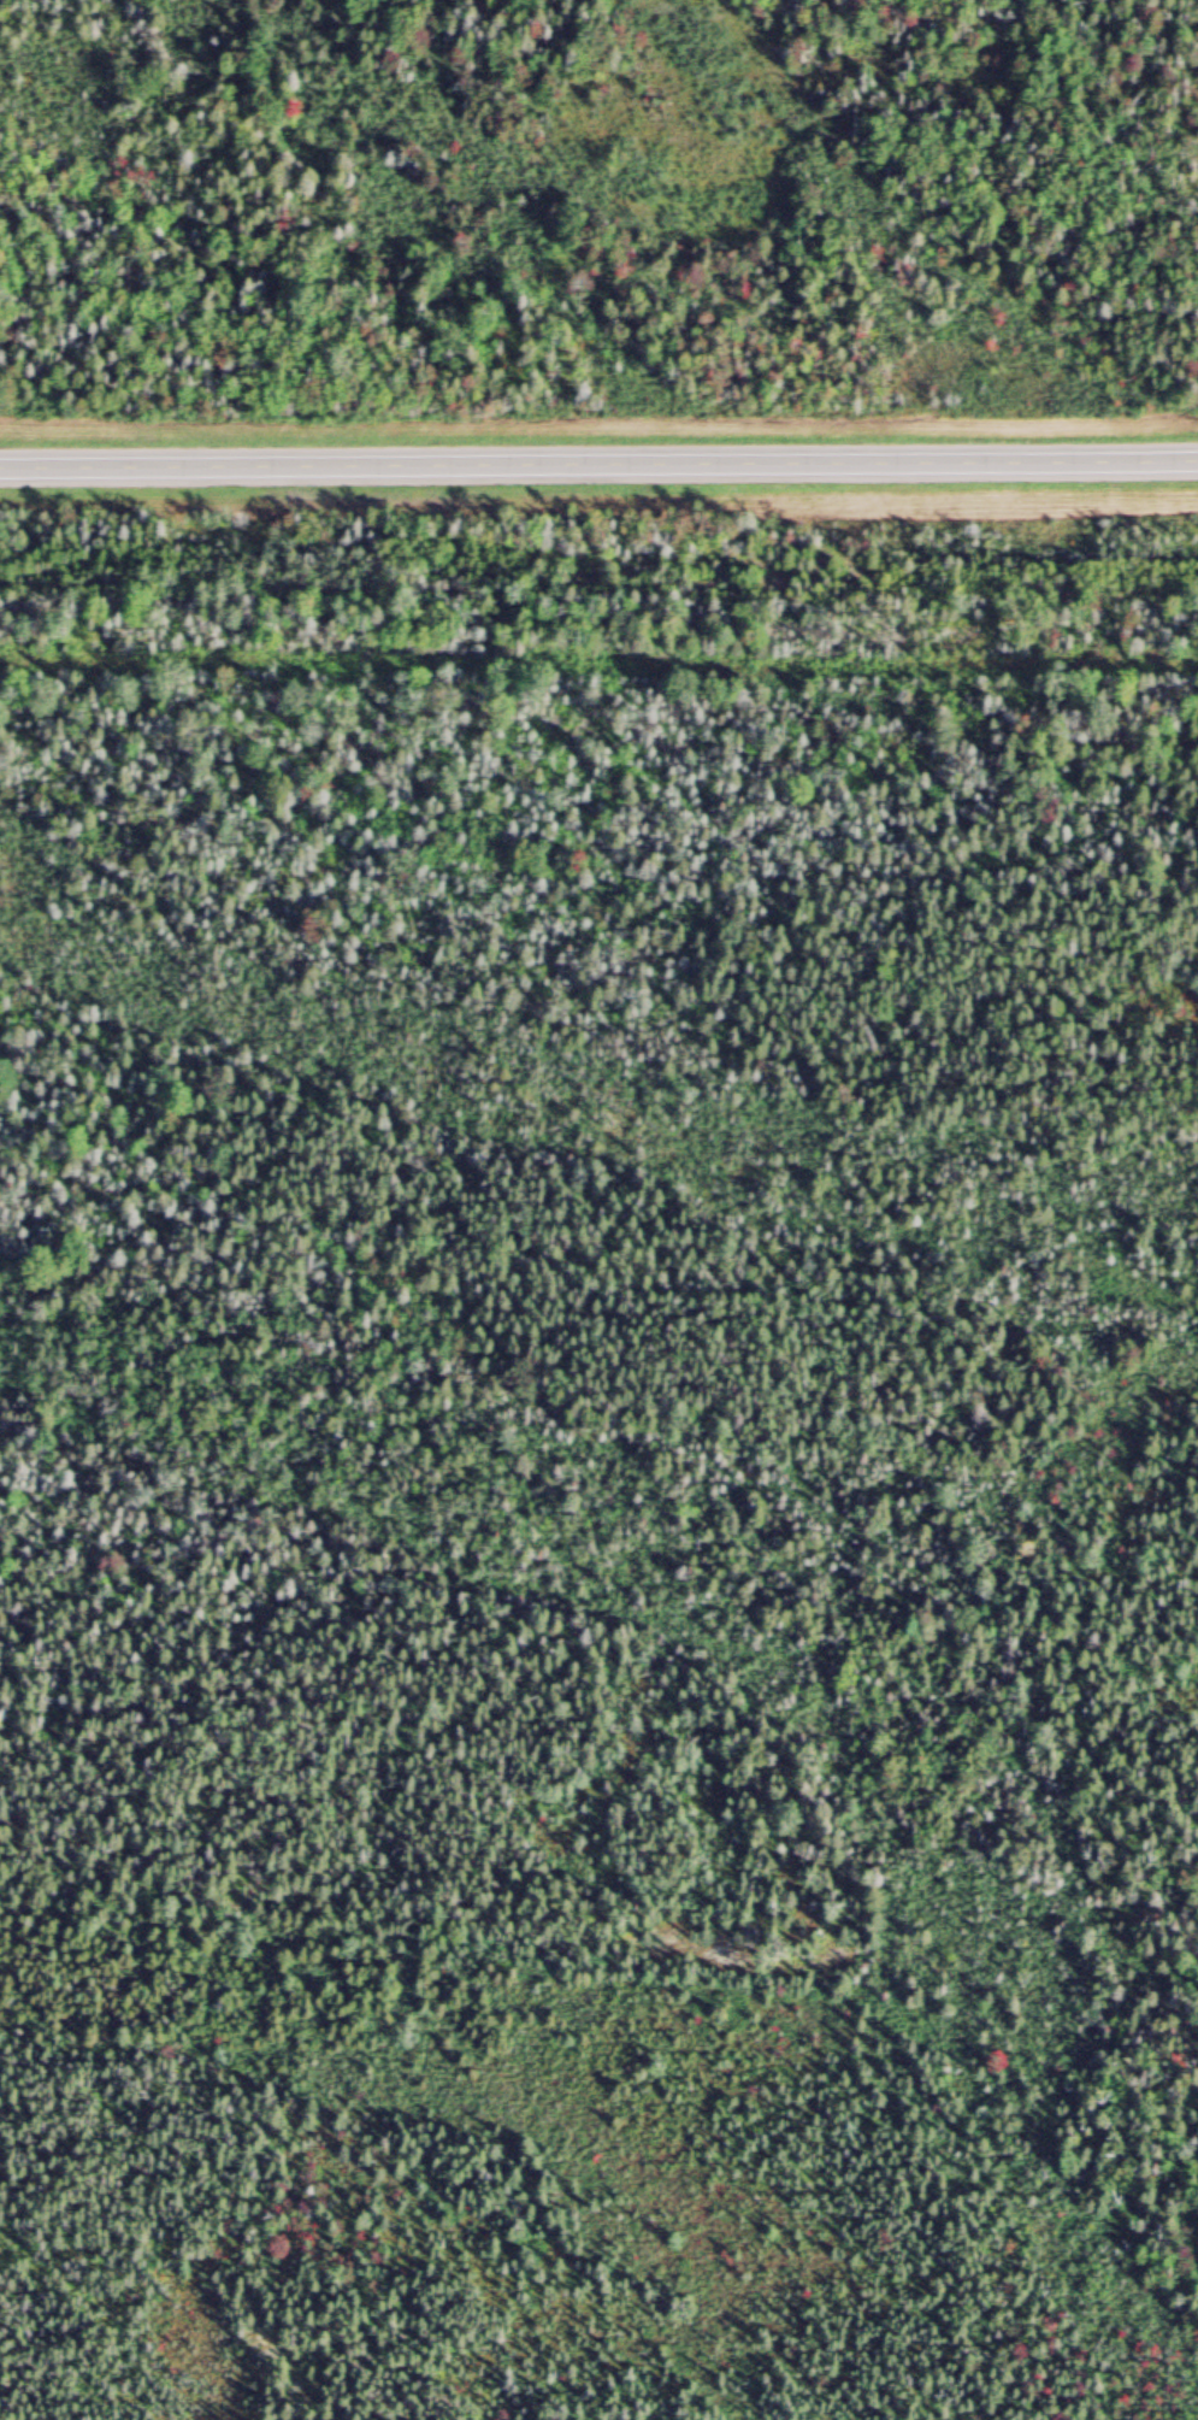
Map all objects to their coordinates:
road: (598, 459)

